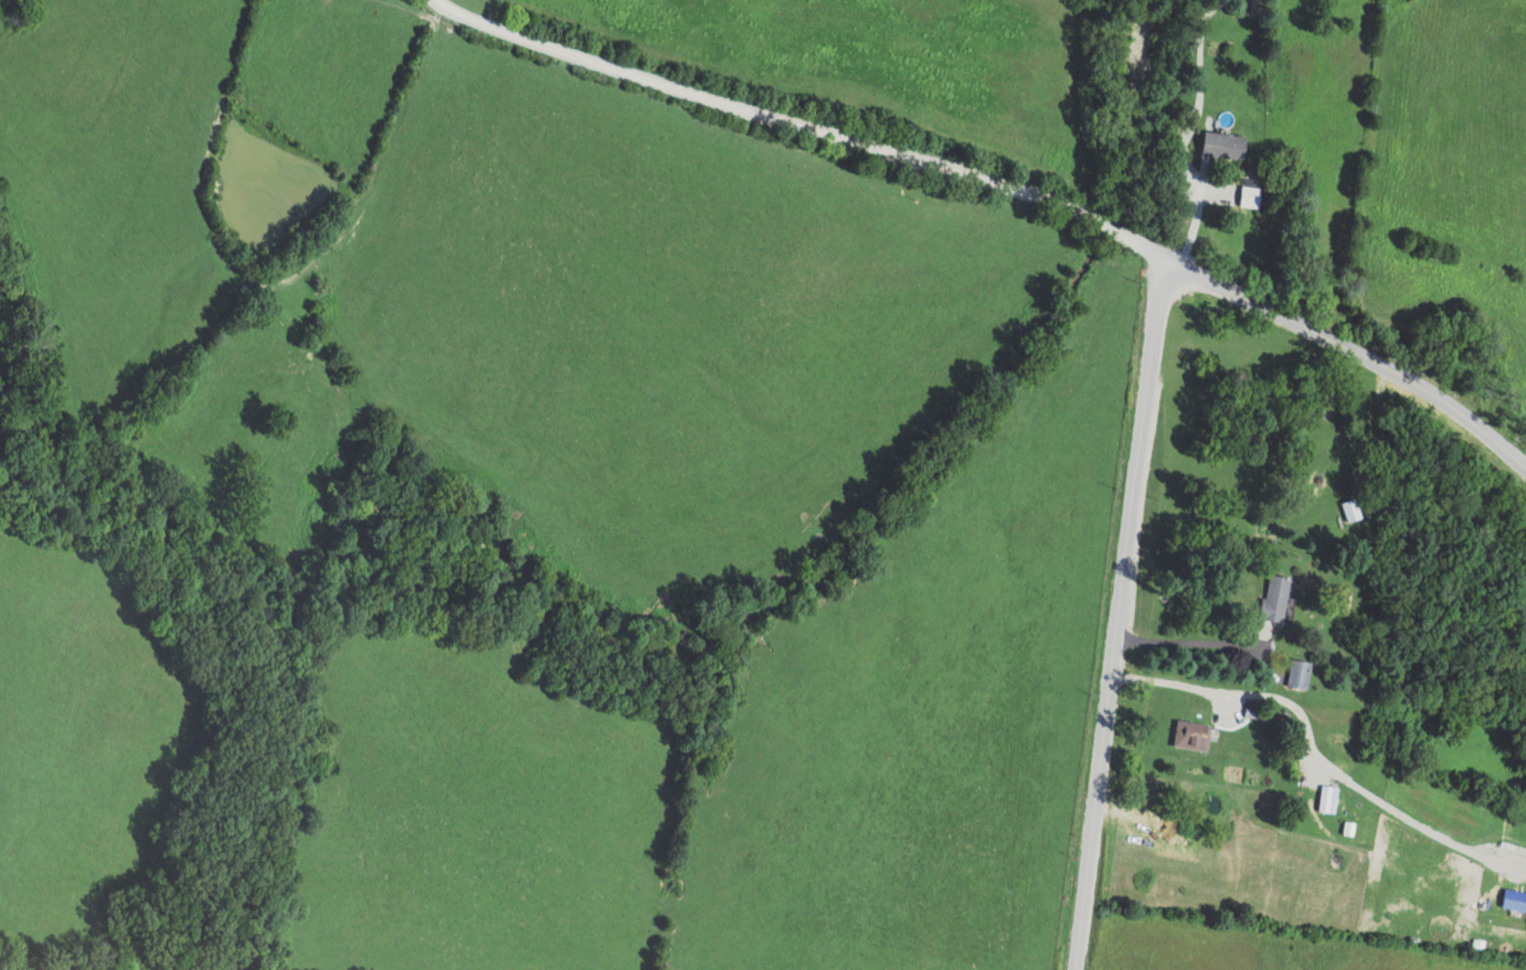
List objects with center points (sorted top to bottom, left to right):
building: (1224, 145)
building: (1250, 196)
road: (995, 246)
building: (1352, 510)
building: (1277, 598)
road: (1104, 647)
building: (1299, 674)
building: (1192, 736)

